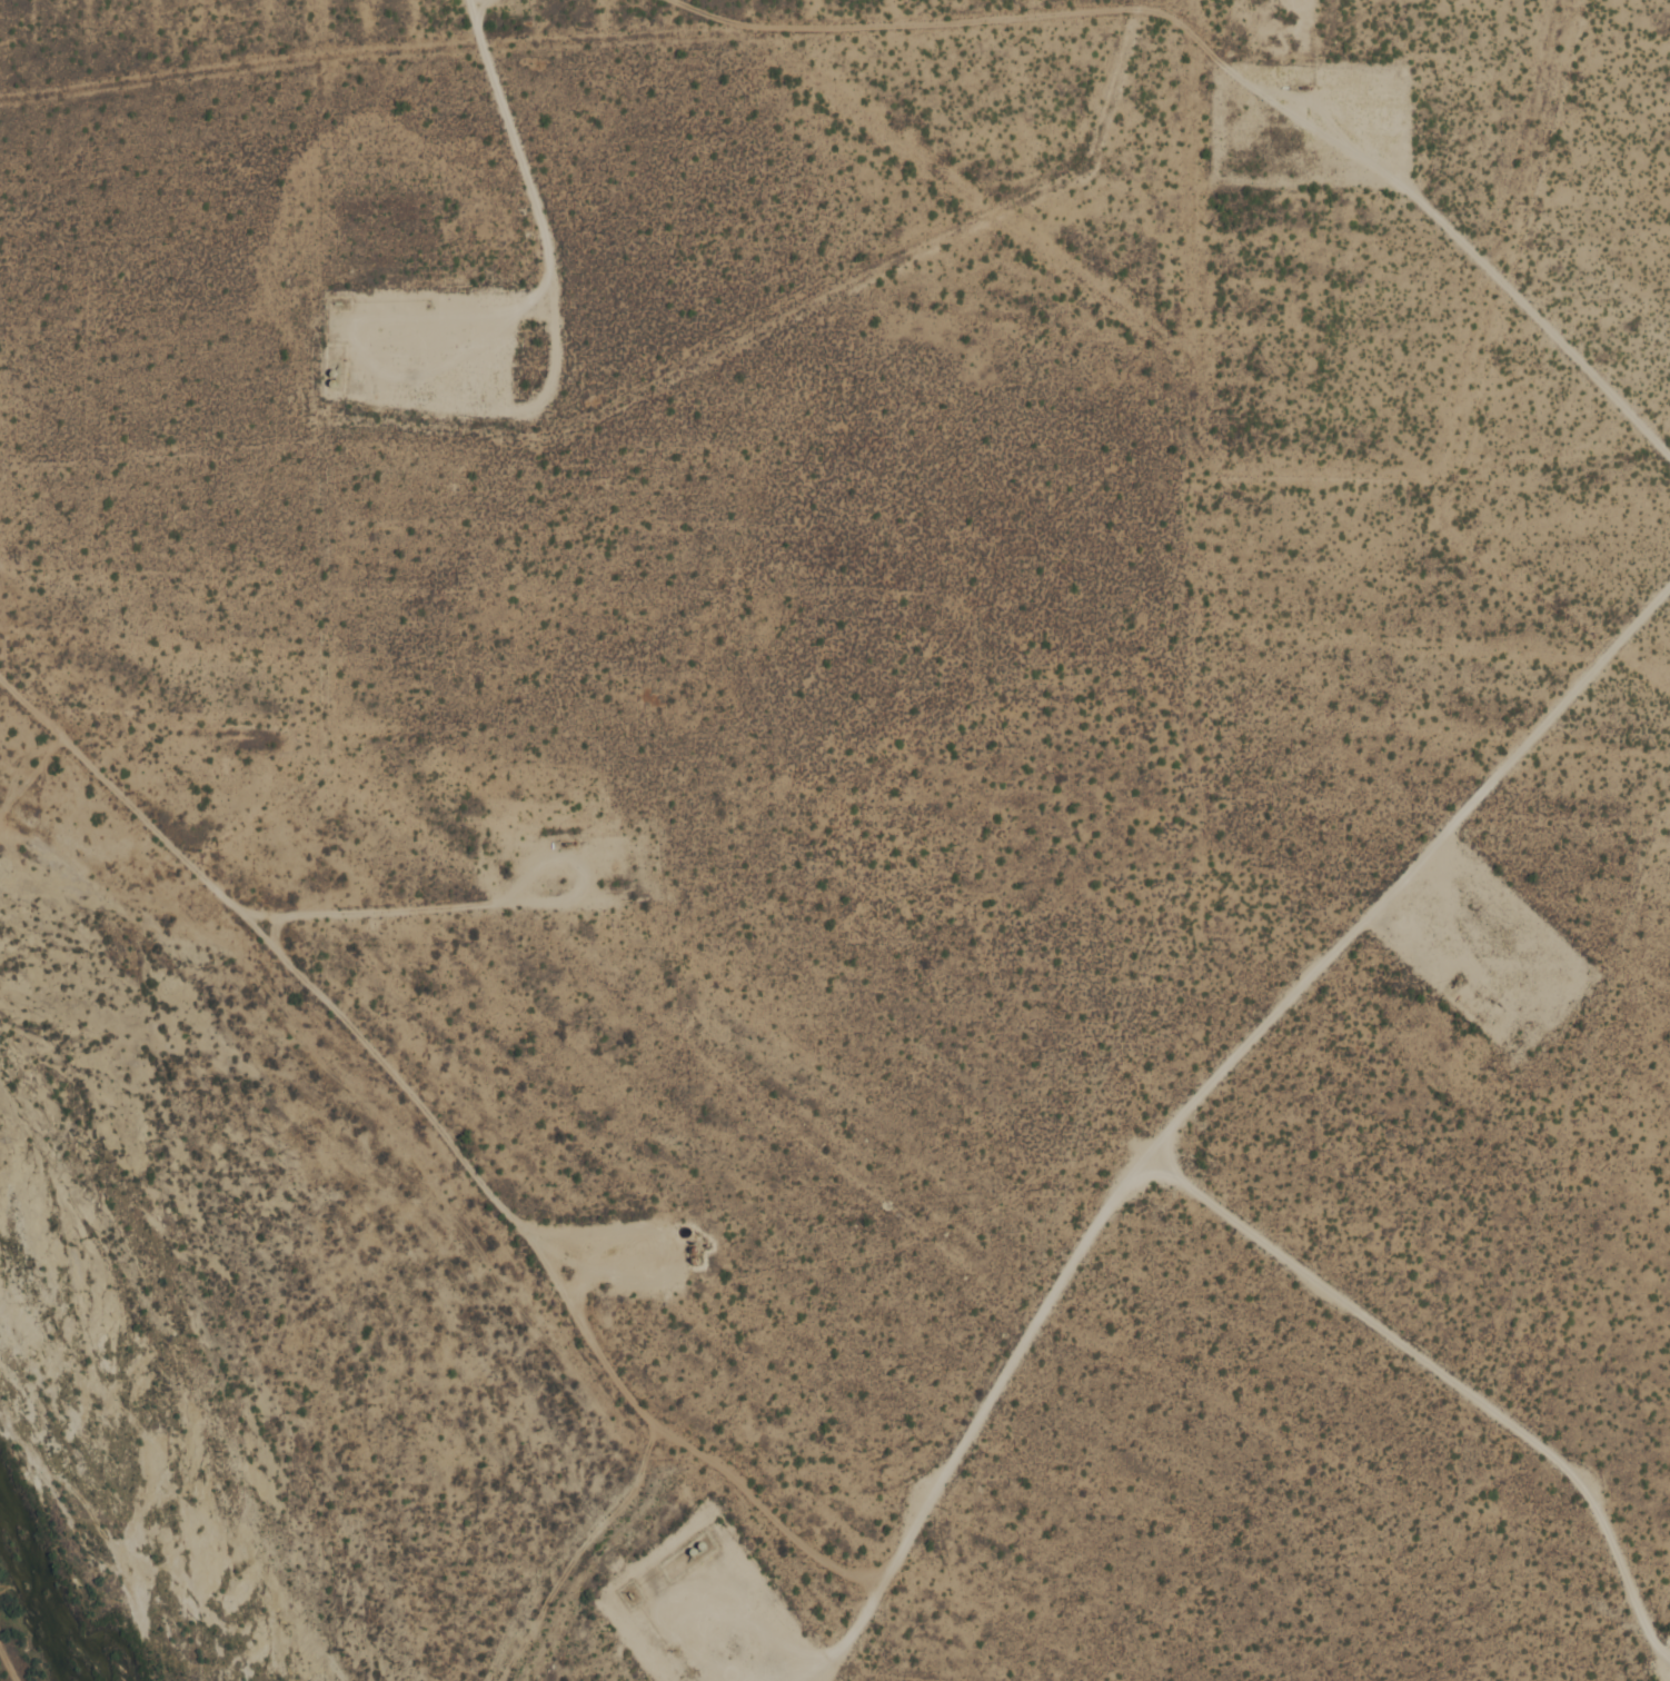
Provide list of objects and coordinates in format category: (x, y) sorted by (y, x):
road: (494, 3)
road: (578, 889)
road: (367, 912)
road: (455, 1146)
road: (669, 1237)
road: (180, 1494)
road: (581, 1556)
river: (51, 1590)
road: (7, 1665)

